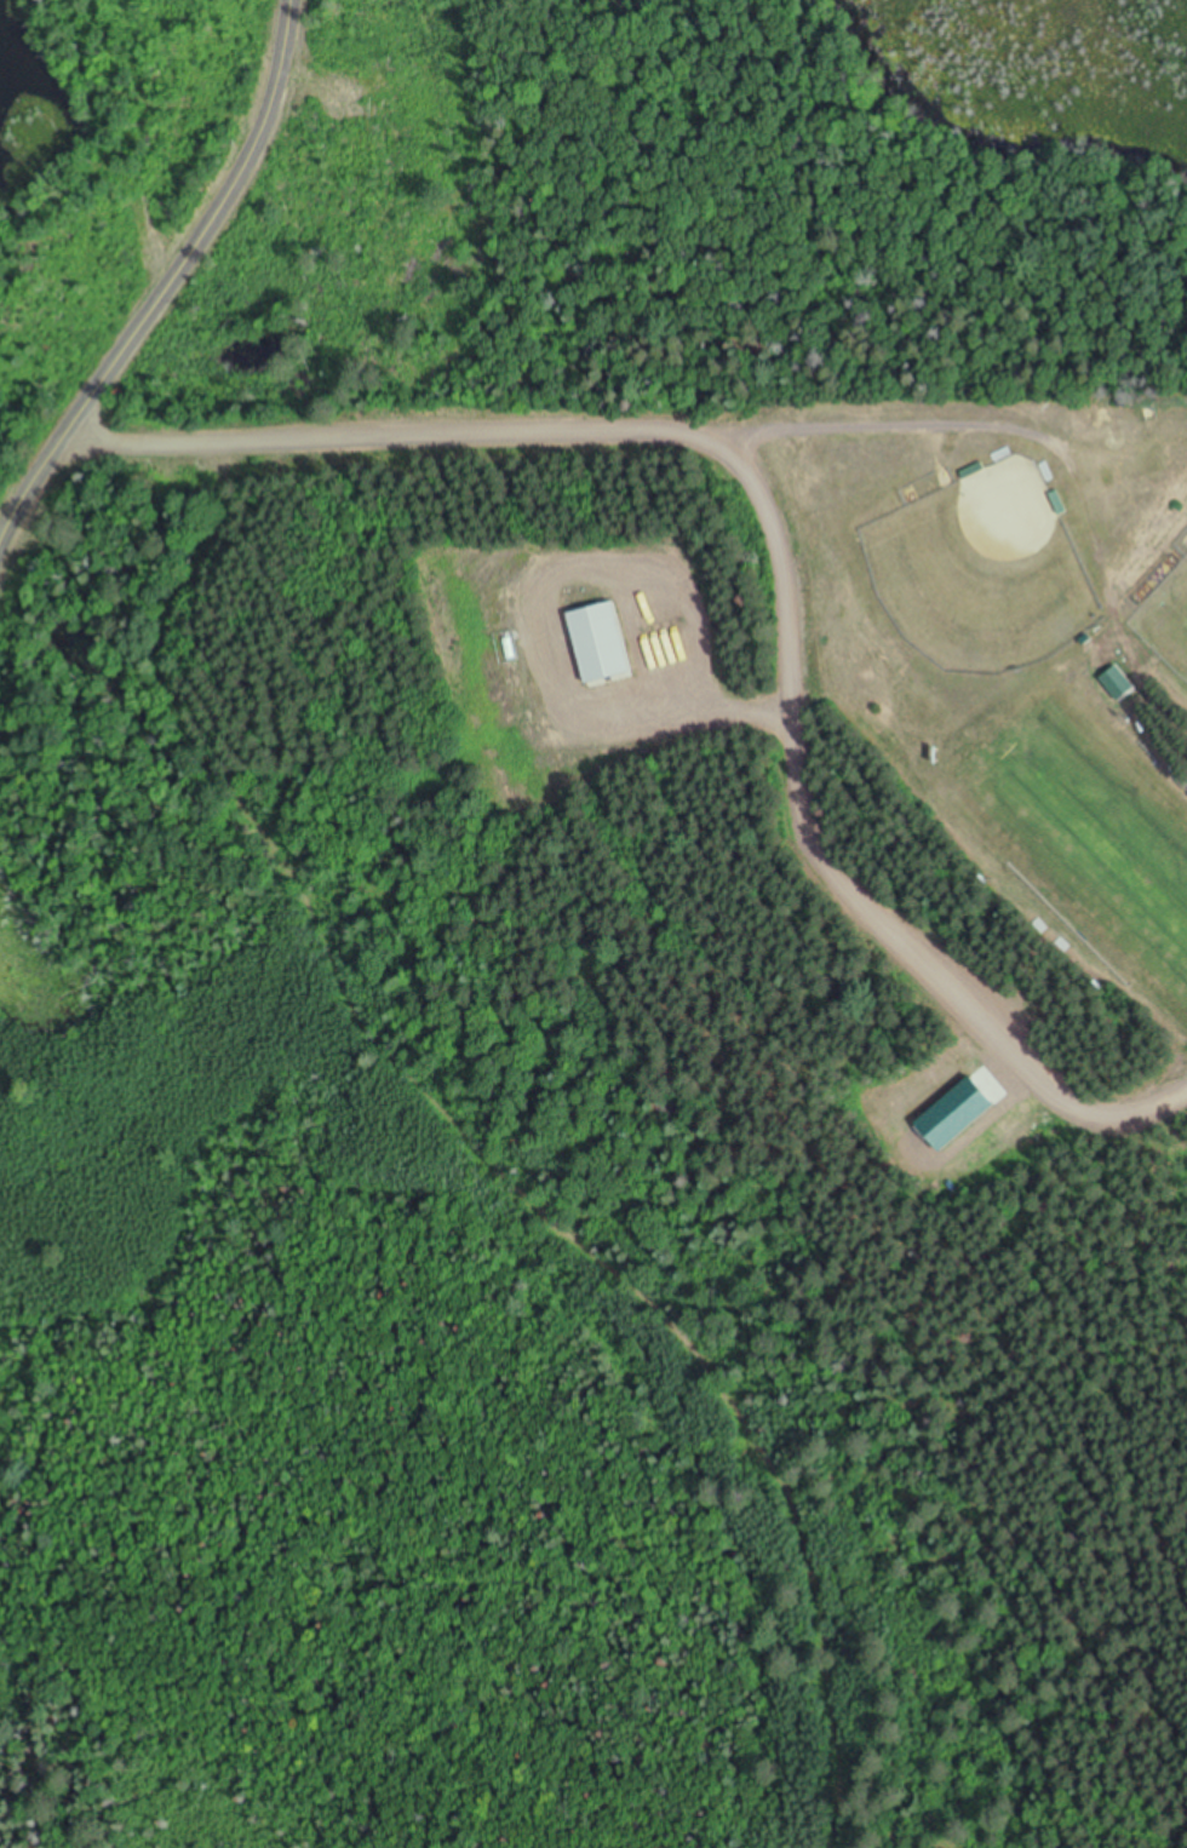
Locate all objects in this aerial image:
road: (241, 182)
road: (61, 437)
road: (778, 553)
park: (981, 575)
park: (1165, 622)
road: (538, 632)
building: (600, 649)
park: (1082, 833)

